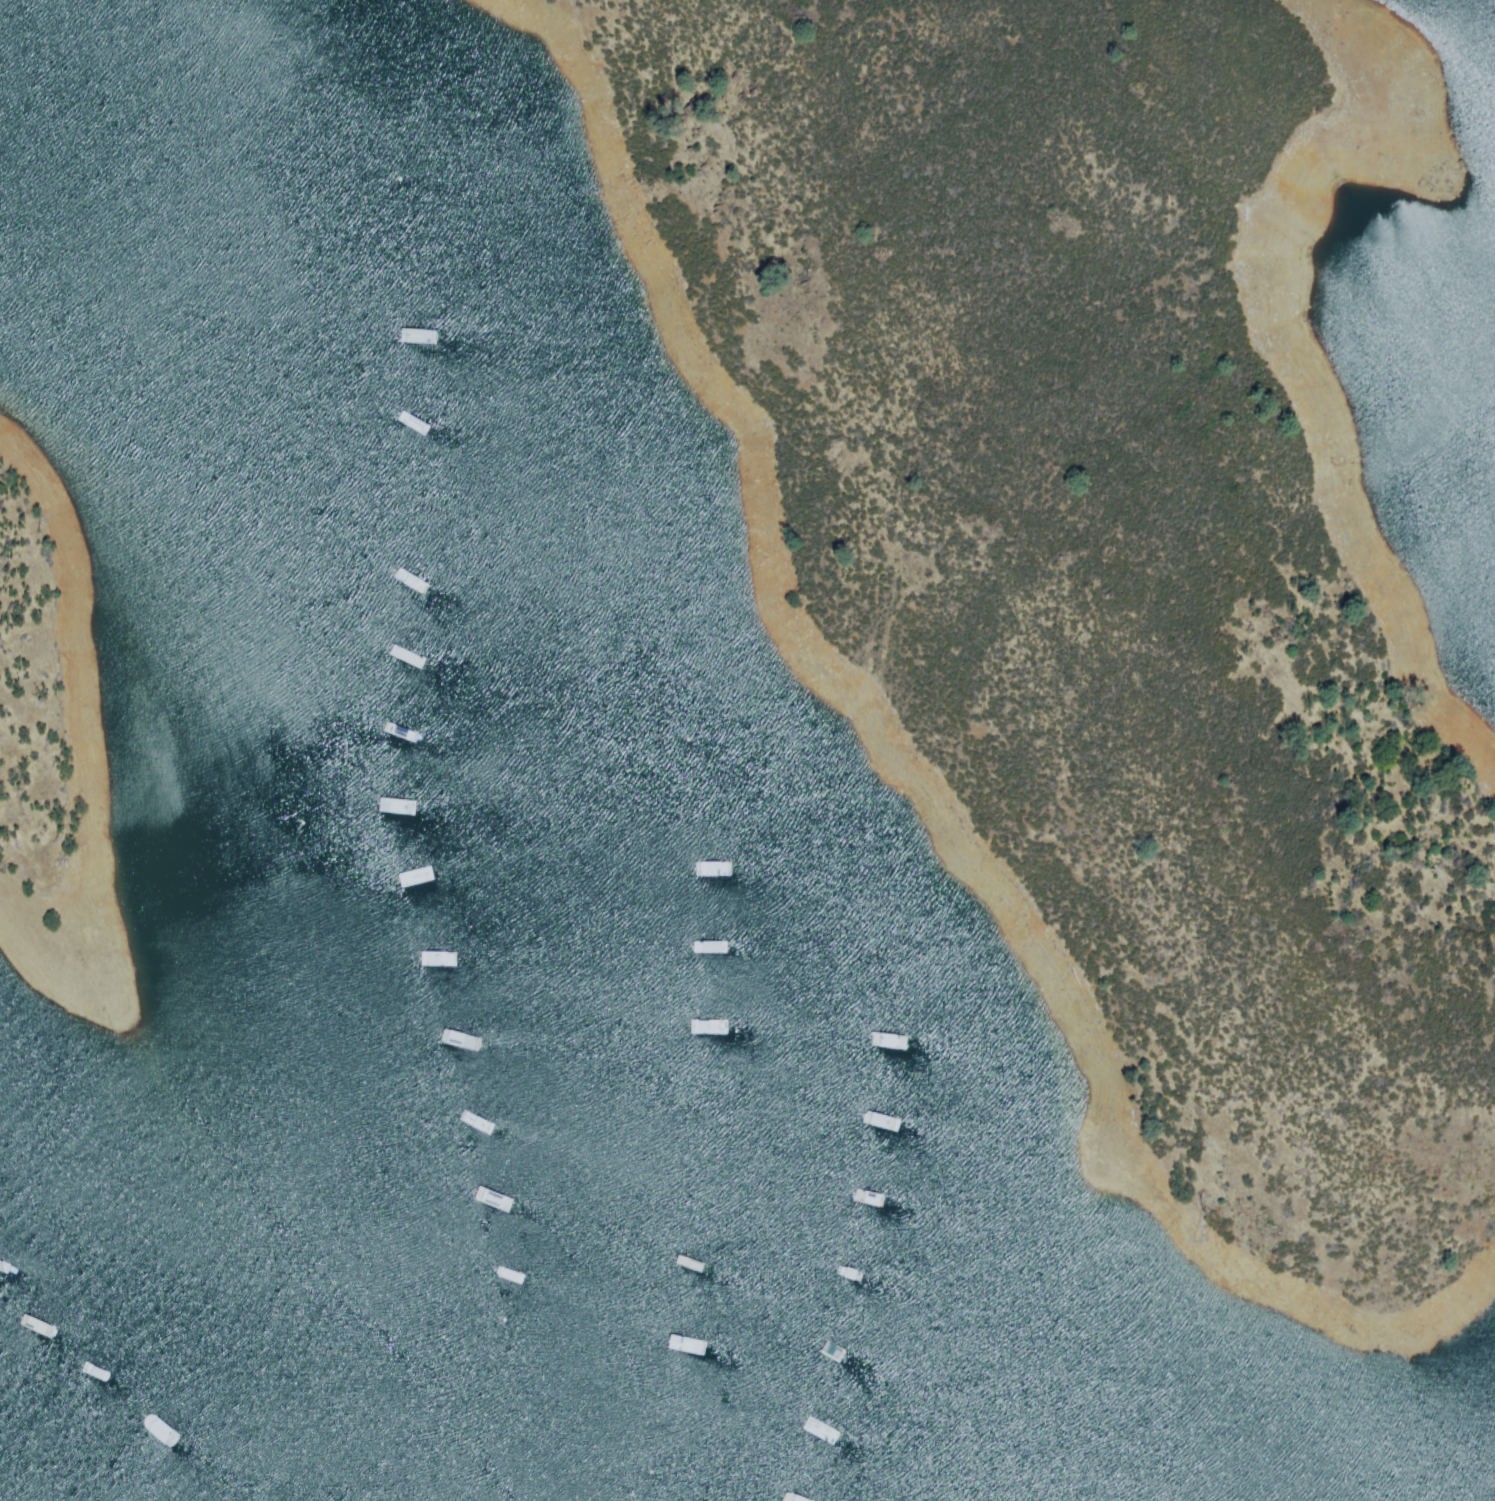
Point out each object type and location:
building: (321, 92)
building: (673, 765)
building: (673, 843)
building: (665, 991)
building: (781, 1135)
building: (1, 1315)

